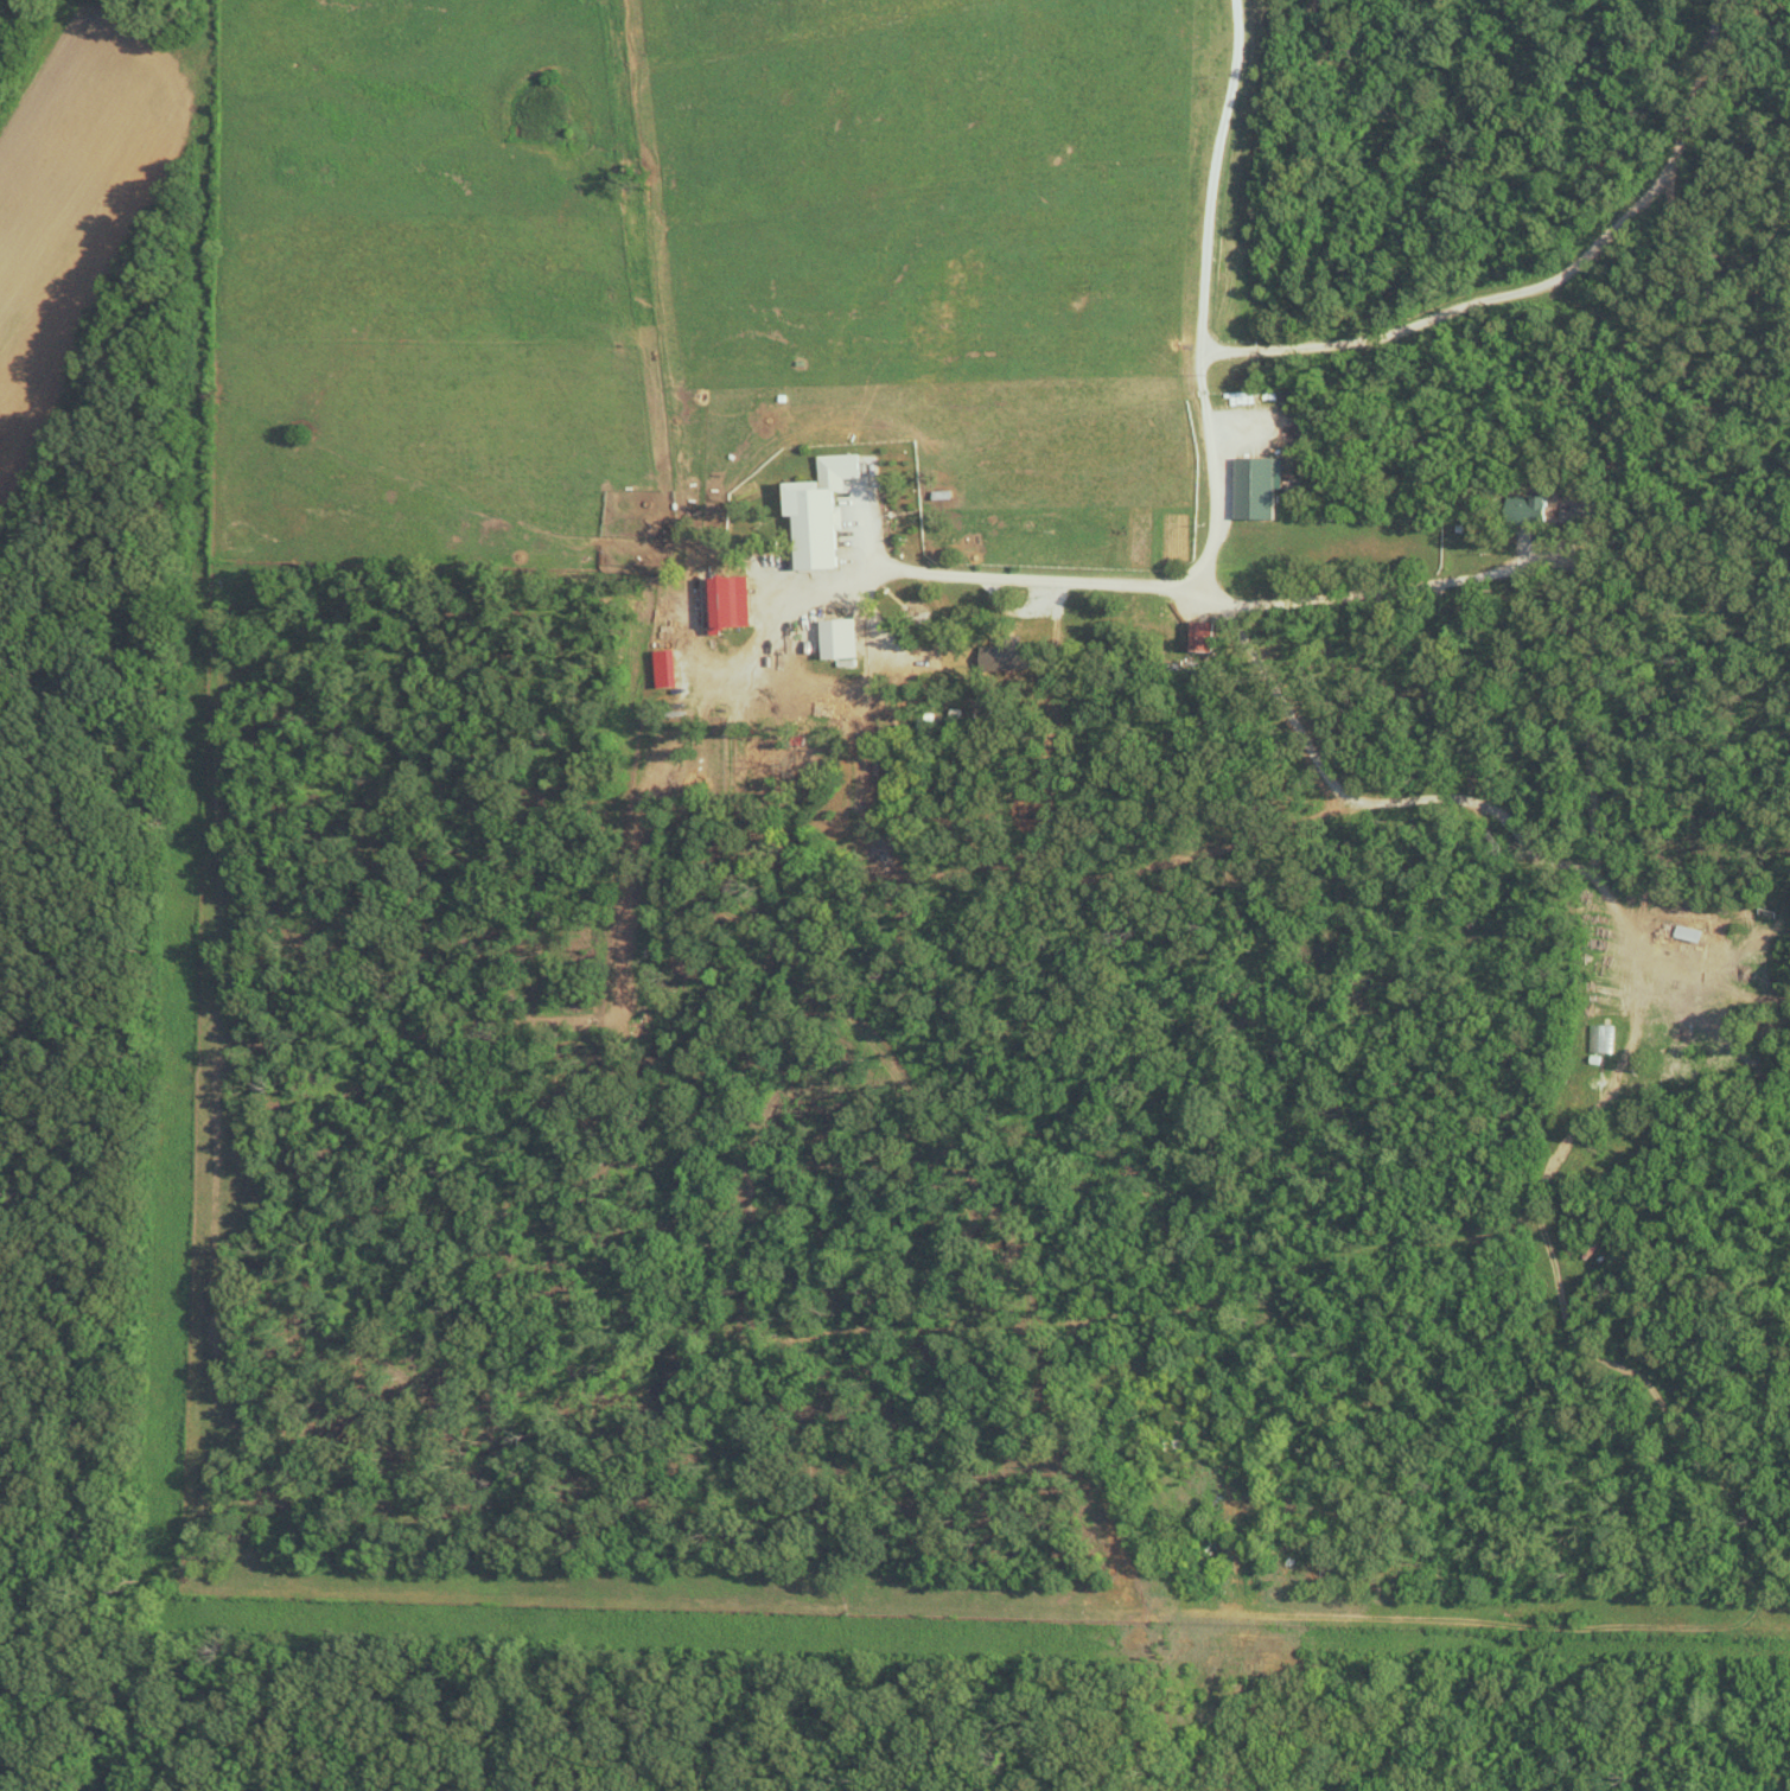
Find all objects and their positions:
road: (1215, 471)
building: (1251, 486)
building: (1524, 503)
building: (827, 522)
road: (1036, 578)
building: (1197, 635)
building: (843, 638)
building: (948, 659)
building: (1687, 932)
building: (1601, 1037)
road: (189, 1598)

